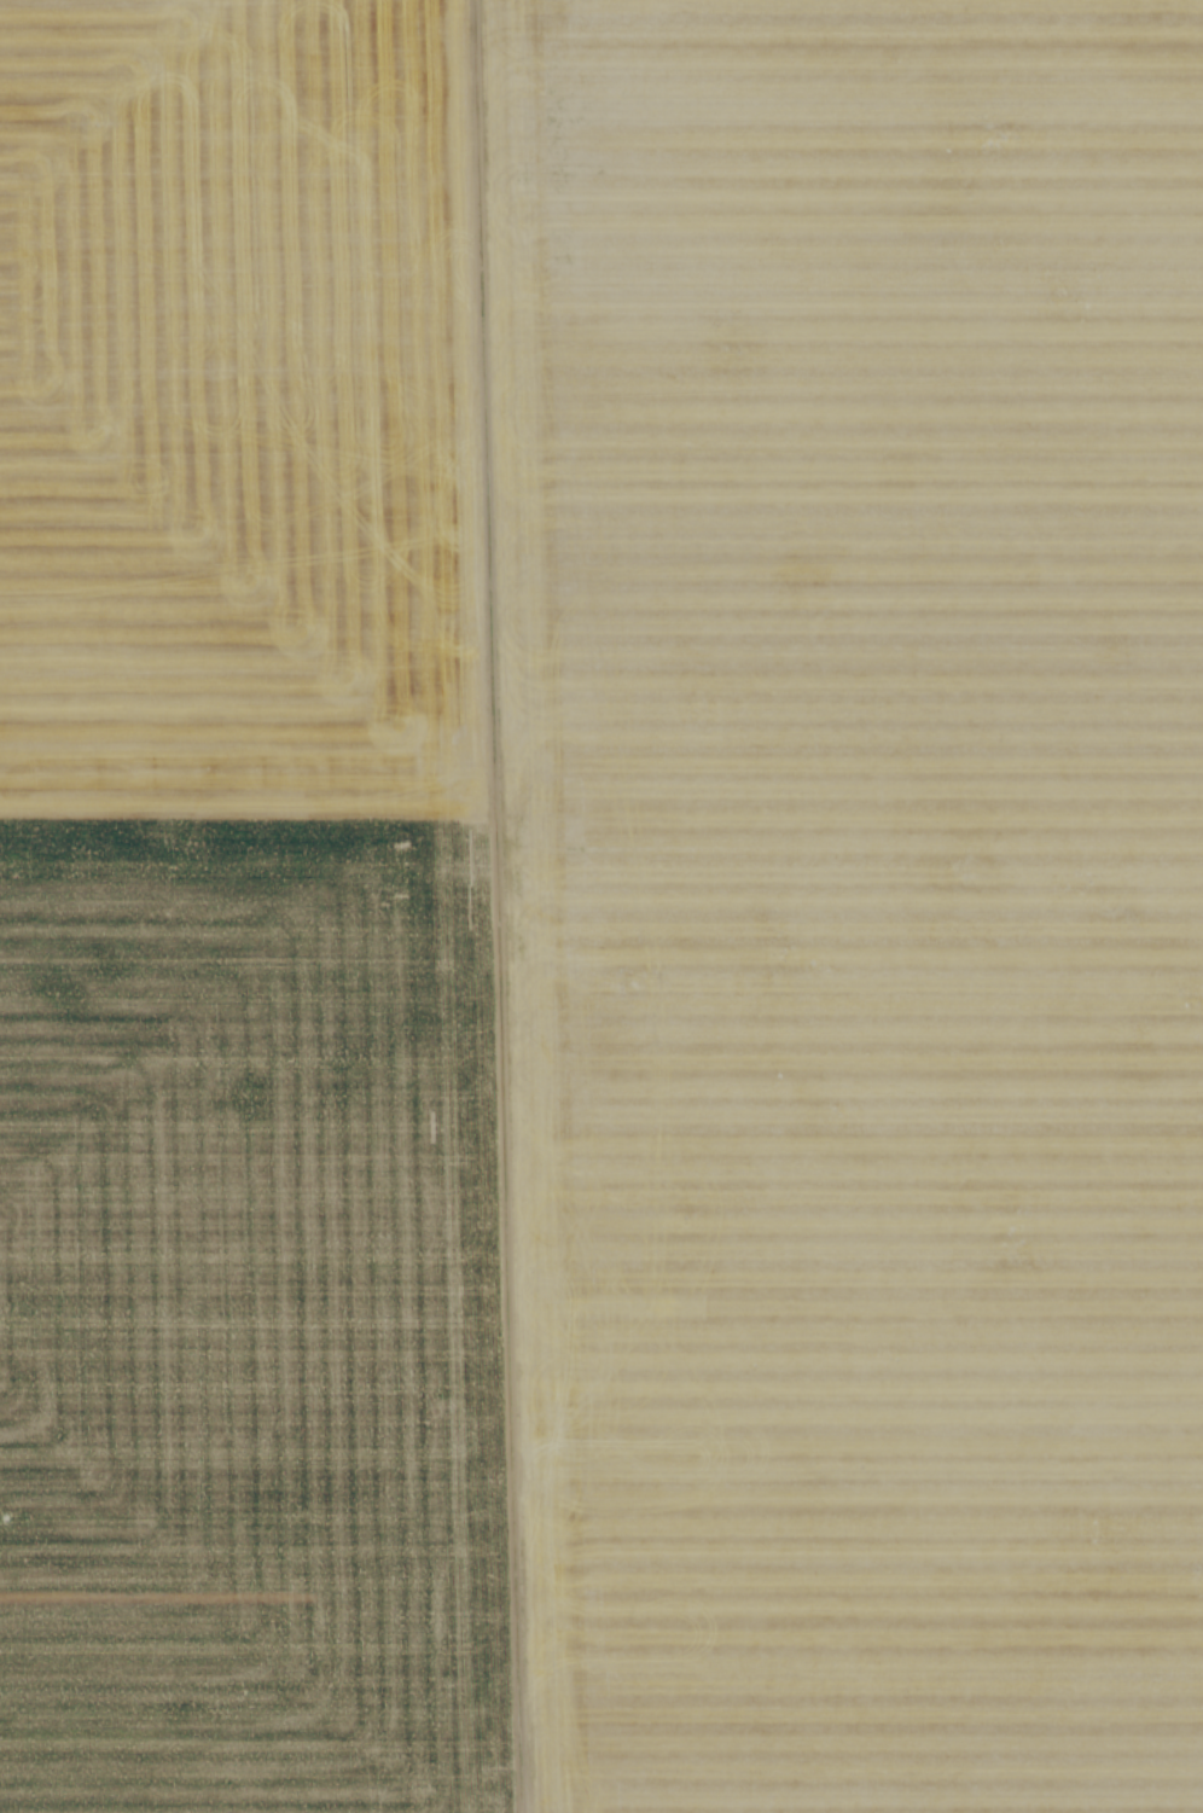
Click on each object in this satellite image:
crop: (601, 906)

